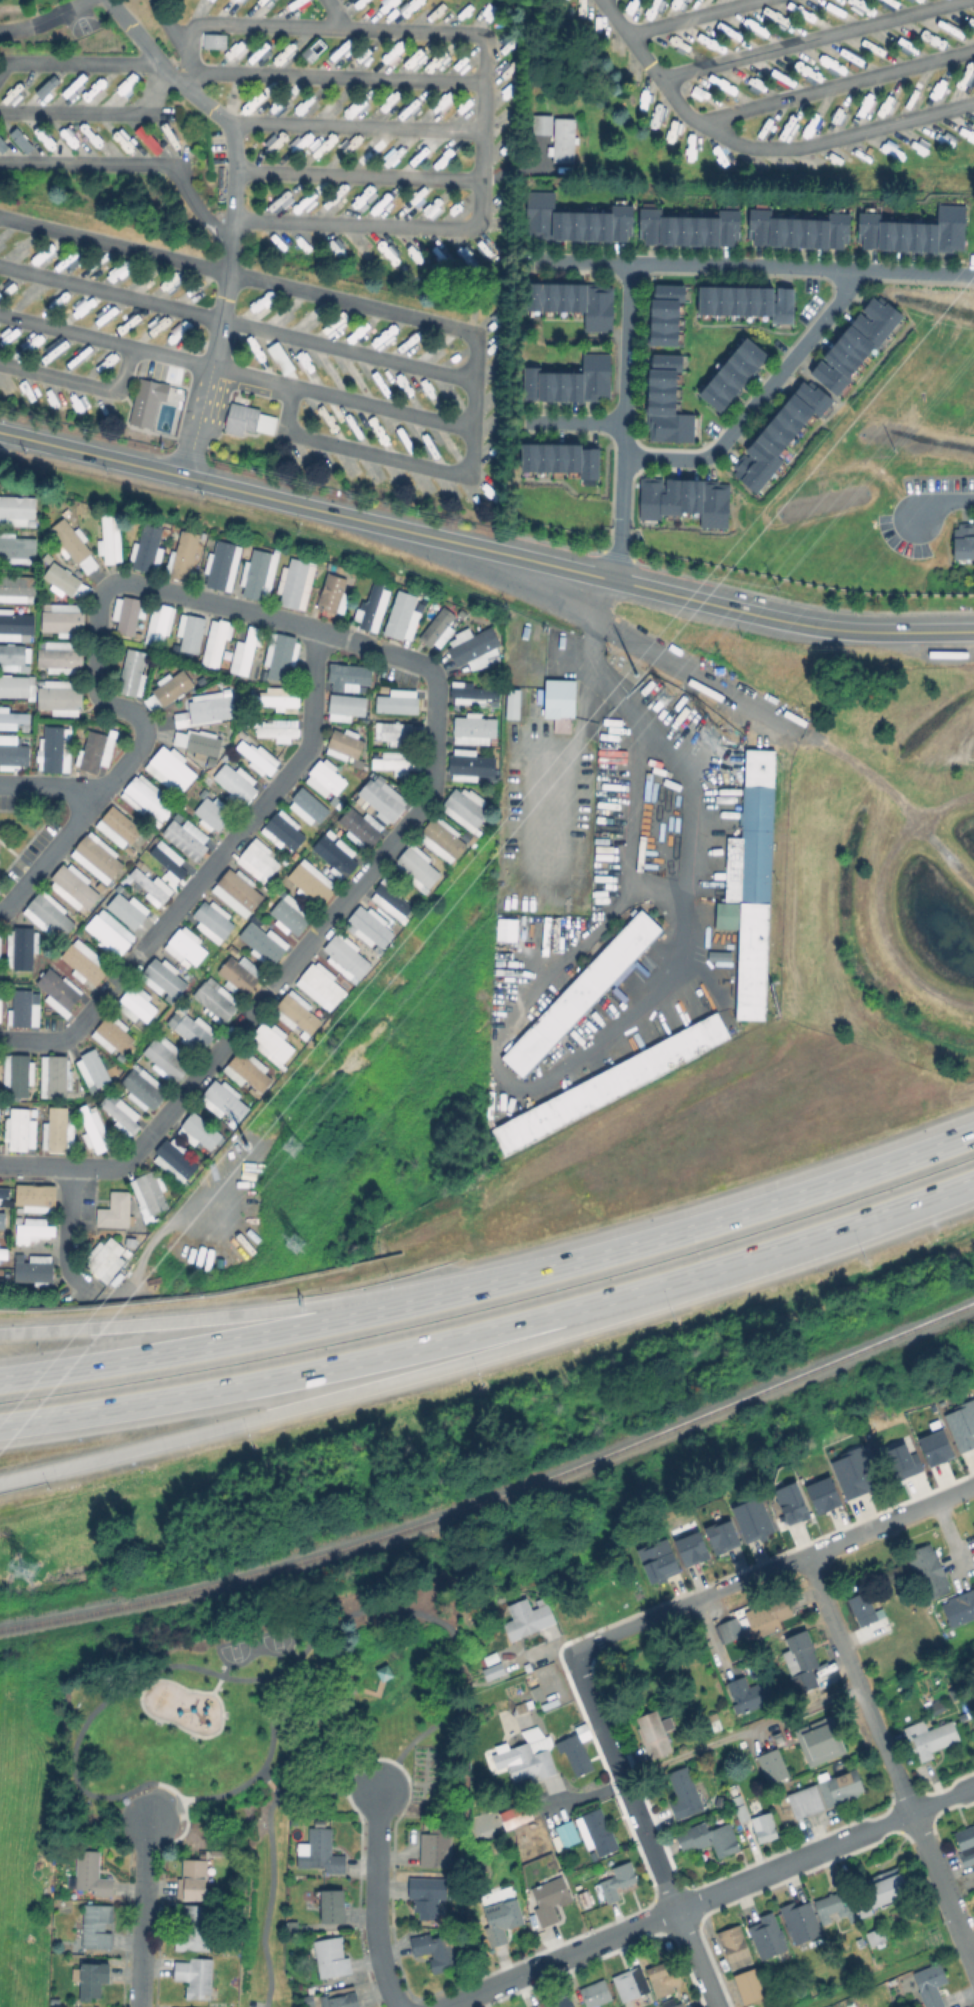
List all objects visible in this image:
road: (331, 13)
road: (686, 16)
road: (45, 22)
road: (806, 38)
building: (213, 40)
building: (312, 49)
road: (76, 61)
road: (297, 73)
road: (187, 77)
road: (834, 85)
building: (43, 87)
building: (11, 90)
road: (482, 91)
road: (81, 110)
road: (353, 124)
building: (541, 124)
building: (19, 139)
building: (146, 139)
building: (561, 139)
building: (1, 145)
road: (757, 146)
road: (83, 160)
road: (357, 173)
road: (194, 204)
road: (232, 216)
building: (576, 220)
building: (691, 229)
building: (800, 230)
building: (915, 232)
road: (694, 265)
road: (912, 272)
building: (751, 302)
building: (577, 303)
building: (669, 314)
road: (419, 318)
road: (236, 322)
road: (627, 343)
building: (858, 343)
building: (278, 357)
road: (234, 373)
building: (734, 376)
road: (79, 380)
building: (572, 382)
building: (145, 400)
road: (759, 400)
building: (668, 402)
building: (246, 419)
road: (576, 421)
building: (780, 437)
building: (563, 460)
road: (252, 494)
building: (686, 500)
road: (621, 503)
road: (944, 503)
building: (16, 506)
building: (109, 538)
building: (67, 540)
building: (963, 542)
building: (17, 546)
building: (145, 547)
building: (182, 555)
building: (45, 557)
building: (218, 564)
building: (255, 572)
building: (59, 579)
building: (292, 581)
building: (16, 584)
building: (329, 592)
building: (369, 602)
road: (737, 609)
road: (589, 612)
building: (126, 614)
building: (401, 616)
building: (60, 620)
building: (15, 622)
building: (155, 623)
building: (435, 627)
building: (183, 632)
building: (215, 643)
building: (471, 647)
building: (245, 650)
building: (11, 653)
building: (279, 656)
building: (57, 658)
power tower: (633, 671)
road: (683, 671)
building: (128, 672)
building: (345, 675)
road: (436, 682)
building: (16, 685)
building: (171, 687)
building: (472, 692)
power tower: (662, 695)
building: (58, 699)
building: (272, 700)
building: (396, 702)
building: (510, 703)
building: (558, 704)
building: (344, 706)
building: (209, 709)
building: (13, 717)
building: (179, 719)
building: (276, 729)
building: (473, 730)
building: (397, 733)
power tower: (716, 740)
building: (343, 742)
building: (201, 744)
building: (49, 749)
building: (90, 751)
building: (14, 753)
building: (253, 757)
building: (394, 763)
road: (572, 763)
building: (470, 764)
building: (170, 768)
building: (325, 777)
building: (232, 782)
building: (145, 799)
building: (378, 801)
building: (305, 806)
building: (464, 808)
building: (208, 814)
building: (119, 825)
building: (358, 827)
building: (283, 831)
building: (440, 840)
building: (182, 841)
building: (97, 856)
building: (333, 856)
road: (47, 860)
building: (255, 862)
building: (166, 863)
building: (417, 867)
road: (204, 874)
building: (751, 885)
building: (72, 886)
building: (146, 886)
building: (308, 886)
building: (238, 889)
building: (391, 899)
building: (126, 909)
building: (48, 915)
building: (286, 917)
building: (211, 920)
building: (369, 928)
building: (106, 936)
building: (259, 943)
building: (185, 946)
building: (20, 949)
building: (345, 957)
building: (81, 963)
building: (237, 975)
building: (162, 977)
building: (318, 988)
building: (56, 990)
building: (580, 994)
building: (213, 1002)
building: (136, 1004)
building: (18, 1008)
building: (297, 1015)
building: (189, 1028)
building: (110, 1033)
building: (269, 1042)
building: (165, 1058)
road: (559, 1068)
building: (91, 1071)
building: (245, 1072)
building: (16, 1074)
building: (52, 1076)
building: (608, 1083)
building: (222, 1101)
building: (119, 1113)
power tower: (259, 1121)
building: (19, 1128)
building: (91, 1129)
building: (55, 1130)
building: (197, 1131)
power tower: (284, 1143)
building: (174, 1159)
building: (3, 1192)
building: (147, 1194)
building: (34, 1197)
building: (112, 1210)
building: (1, 1219)
road: (722, 1220)
road: (842, 1228)
building: (33, 1229)
road: (67, 1235)
power tower: (292, 1241)
building: (2, 1252)
building: (103, 1259)
building: (31, 1267)
road: (233, 1316)
road: (234, 1341)
road: (357, 1362)
road: (359, 1391)
building: (961, 1424)
building: (933, 1447)
building: (901, 1461)
building: (851, 1472)
building: (821, 1495)
railway: (497, 1498)
building: (790, 1503)
building: (752, 1517)
building: (973, 1525)
building: (720, 1535)
building: (690, 1548)
building: (657, 1560)
power tower: (29, 1568)
road: (772, 1571)
building: (892, 1573)
building: (927, 1574)
building: (959, 1608)
building: (864, 1612)
building: (767, 1615)
building: (529, 1622)
building: (729, 1633)
park: (276, 1640)
park: (234, 1650)
road: (540, 1652)
building: (800, 1664)
building: (491, 1670)
building: (384, 1676)
building: (750, 1697)
road: (797, 1708)
park: (277, 1734)
building: (655, 1735)
road: (73, 1740)
building: (929, 1740)
building: (821, 1742)
building: (577, 1753)
building: (521, 1756)
road: (890, 1757)
building: (774, 1769)
road: (268, 1779)
building: (826, 1795)
road: (582, 1796)
building: (685, 1796)
building: (737, 1810)
road: (641, 1830)
building: (765, 1831)
building: (595, 1836)
building: (567, 1837)
building: (706, 1841)
road: (269, 1844)
building: (966, 1844)
building: (437, 1849)
building: (321, 1856)
building: (90, 1877)
building: (619, 1880)
building: (194, 1881)
building: (888, 1888)
building: (426, 1895)
road: (706, 1898)
road: (377, 1901)
building: (549, 1904)
building: (831, 1908)
building: (334, 1909)
building: (862, 1911)
road: (144, 1914)
building: (798, 1921)
building: (503, 1924)
building: (291, 1927)
building: (97, 1928)
building: (195, 1932)
building: (765, 1935)
building: (876, 1936)
building: (735, 1949)
building: (436, 1953)
building: (332, 1960)
road: (891, 1972)
building: (196, 1979)
building: (662, 1980)
building: (93, 1981)
building: (931, 1984)
building: (630, 1987)
building: (750, 1989)
building: (597, 1995)
building: (304, 1999)
building: (343, 2000)
building: (875, 2000)
building: (54, 2001)
building: (565, 2004)
building: (679, 2005)

